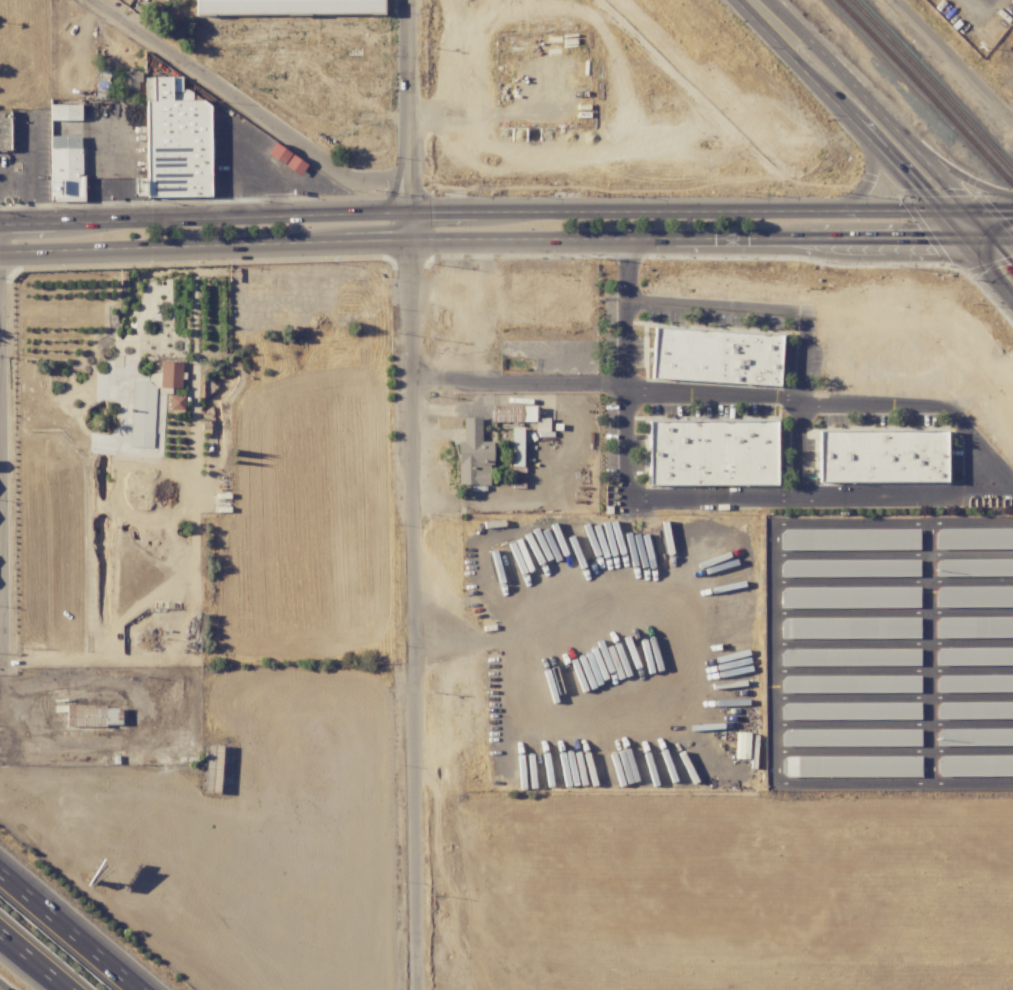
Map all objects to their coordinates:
building: (287, 6)
road: (764, 14)
road: (953, 59)
building: (131, 80)
railway: (931, 86)
railway: (924, 93)
road: (247, 104)
building: (65, 112)
building: (4, 131)
road: (901, 134)
building: (174, 142)
building: (286, 159)
railway: (852, 160)
road: (893, 164)
building: (65, 168)
road: (28, 171)
road: (14, 183)
road: (870, 186)
road: (971, 186)
traffic signals: (974, 211)
road: (975, 211)
road: (468, 212)
traffic signals: (938, 212)
road: (482, 239)
road: (989, 239)
traffic signals: (1000, 239)
traffic signals: (965, 241)
road: (684, 304)
building: (715, 356)
building: (170, 374)
road: (732, 393)
building: (176, 403)
road: (797, 403)
building: (142, 414)
building: (513, 414)
building: (542, 427)
building: (516, 447)
building: (711, 452)
building: (473, 455)
building: (882, 456)
road: (412, 494)
road: (724, 495)
road: (194, 519)
building: (973, 538)
building: (849, 539)
building: (974, 567)
building: (848, 568)
building: (849, 597)
building: (974, 597)
building: (974, 627)
building: (849, 628)
building: (974, 656)
building: (849, 657)
road: (0, 663)
building: (974, 683)
building: (849, 684)
building: (974, 710)
building: (849, 711)
building: (93, 716)
road: (139, 734)
building: (850, 737)
building: (974, 737)
building: (741, 745)
building: (974, 765)
building: (852, 766)
road: (69, 931)
road: (34, 960)

